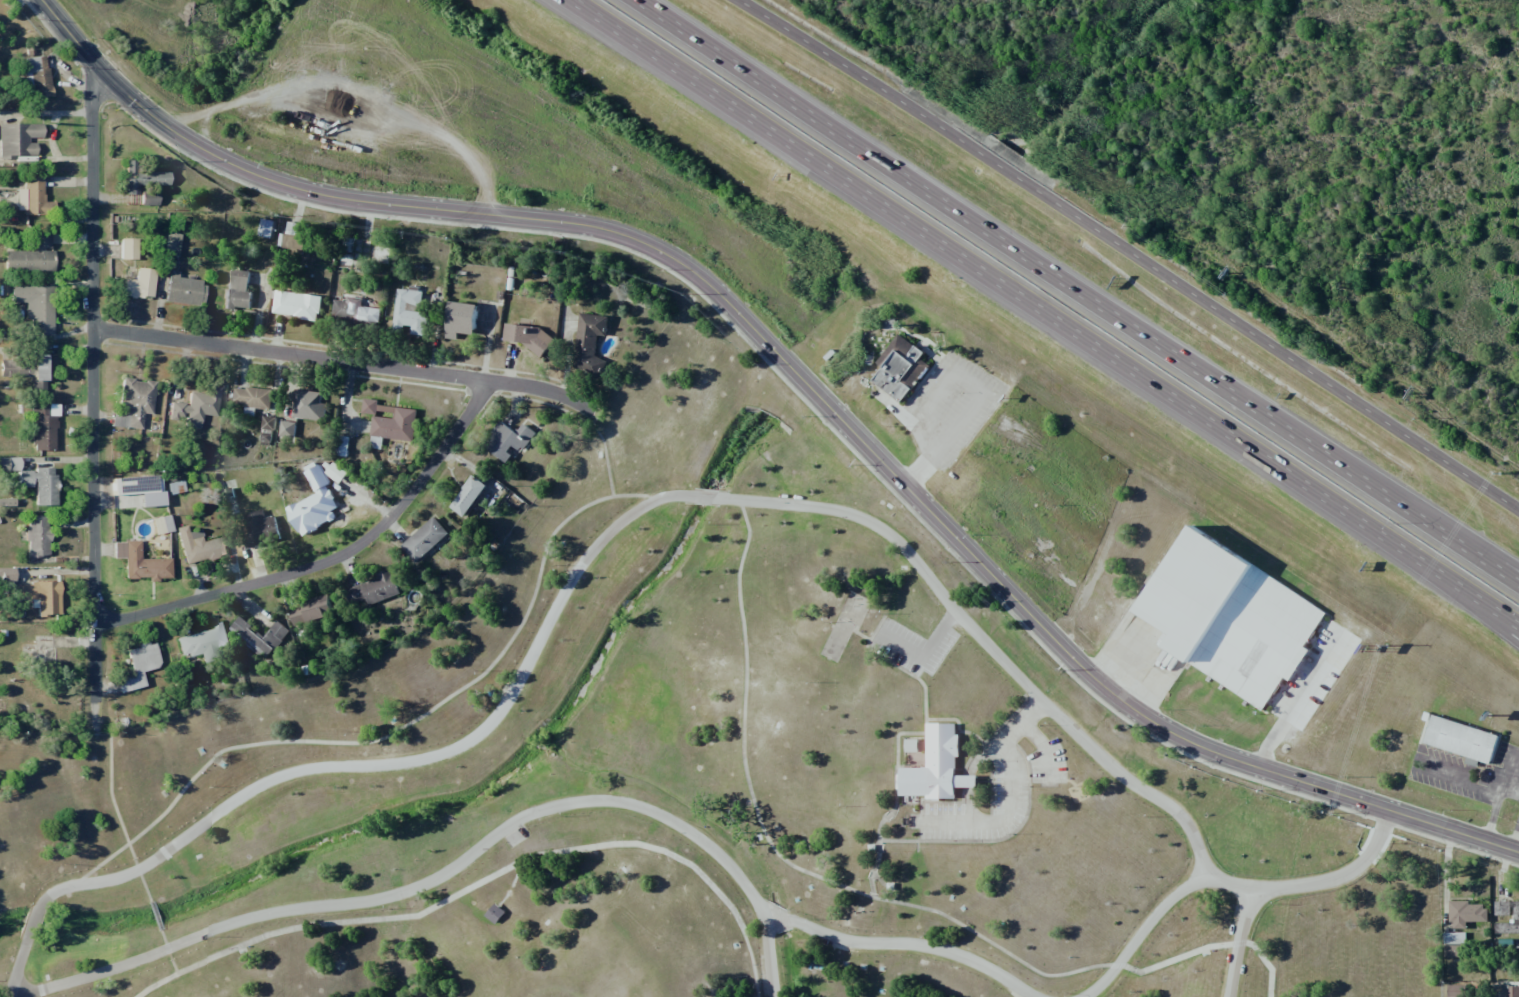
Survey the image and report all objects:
building: (36, 77)
building: (18, 139)
building: (141, 177)
building: (32, 197)
building: (148, 199)
building: (266, 228)
building: (291, 239)
building: (127, 248)
road: (1131, 251)
building: (171, 255)
building: (31, 256)
building: (139, 284)
building: (237, 290)
road: (1080, 290)
building: (296, 305)
building: (35, 307)
building: (355, 312)
building: (410, 313)
road: (1047, 313)
building: (461, 319)
building: (590, 343)
road: (344, 362)
building: (30, 368)
building: (900, 368)
road: (799, 378)
road: (93, 397)
building: (252, 397)
building: (135, 400)
building: (307, 405)
building: (370, 406)
building: (195, 407)
building: (395, 425)
building: (42, 426)
building: (287, 429)
building: (508, 441)
building: (376, 442)
road: (605, 449)
building: (9, 463)
building: (334, 471)
building: (39, 484)
building: (139, 488)
building: (468, 496)
road: (728, 499)
building: (317, 511)
building: (161, 524)
building: (261, 527)
building: (37, 535)
building: (424, 539)
building: (200, 546)
building: (117, 549)
road: (331, 560)
building: (143, 564)
building: (6, 574)
road: (1507, 575)
building: (373, 591)
building: (41, 595)
building: (311, 611)
building: (1230, 617)
road: (1504, 623)
building: (260, 637)
building: (203, 642)
parking lot: (913, 646)
road: (925, 654)
building: (138, 665)
road: (957, 723)
road: (397, 731)
road: (901, 733)
road: (993, 733)
road: (1003, 737)
building: (1463, 744)
road: (1043, 747)
parking lot: (1048, 764)
building: (935, 767)
park: (687, 779)
road: (962, 781)
road: (968, 781)
road: (1070, 781)
road: (109, 791)
road: (949, 803)
road: (967, 805)
parking lot: (981, 808)
road: (1005, 819)
road: (995, 840)
road: (777, 854)
road: (137, 869)
road: (449, 870)
road: (880, 878)
road: (483, 880)
road: (511, 887)
road: (144, 888)
building: (495, 913)
building: (1466, 914)
road: (154, 915)
road: (767, 916)
road: (779, 919)
building: (1516, 919)
road: (32, 922)
road: (1141, 931)
road: (1238, 942)
road: (1238, 943)
road: (913, 945)
building: (1453, 945)
road: (166, 951)
road: (1176, 958)
road: (1117, 965)
road: (1267, 965)
road: (15, 967)
building: (1455, 991)
building: (1507, 991)
road: (19, 995)

